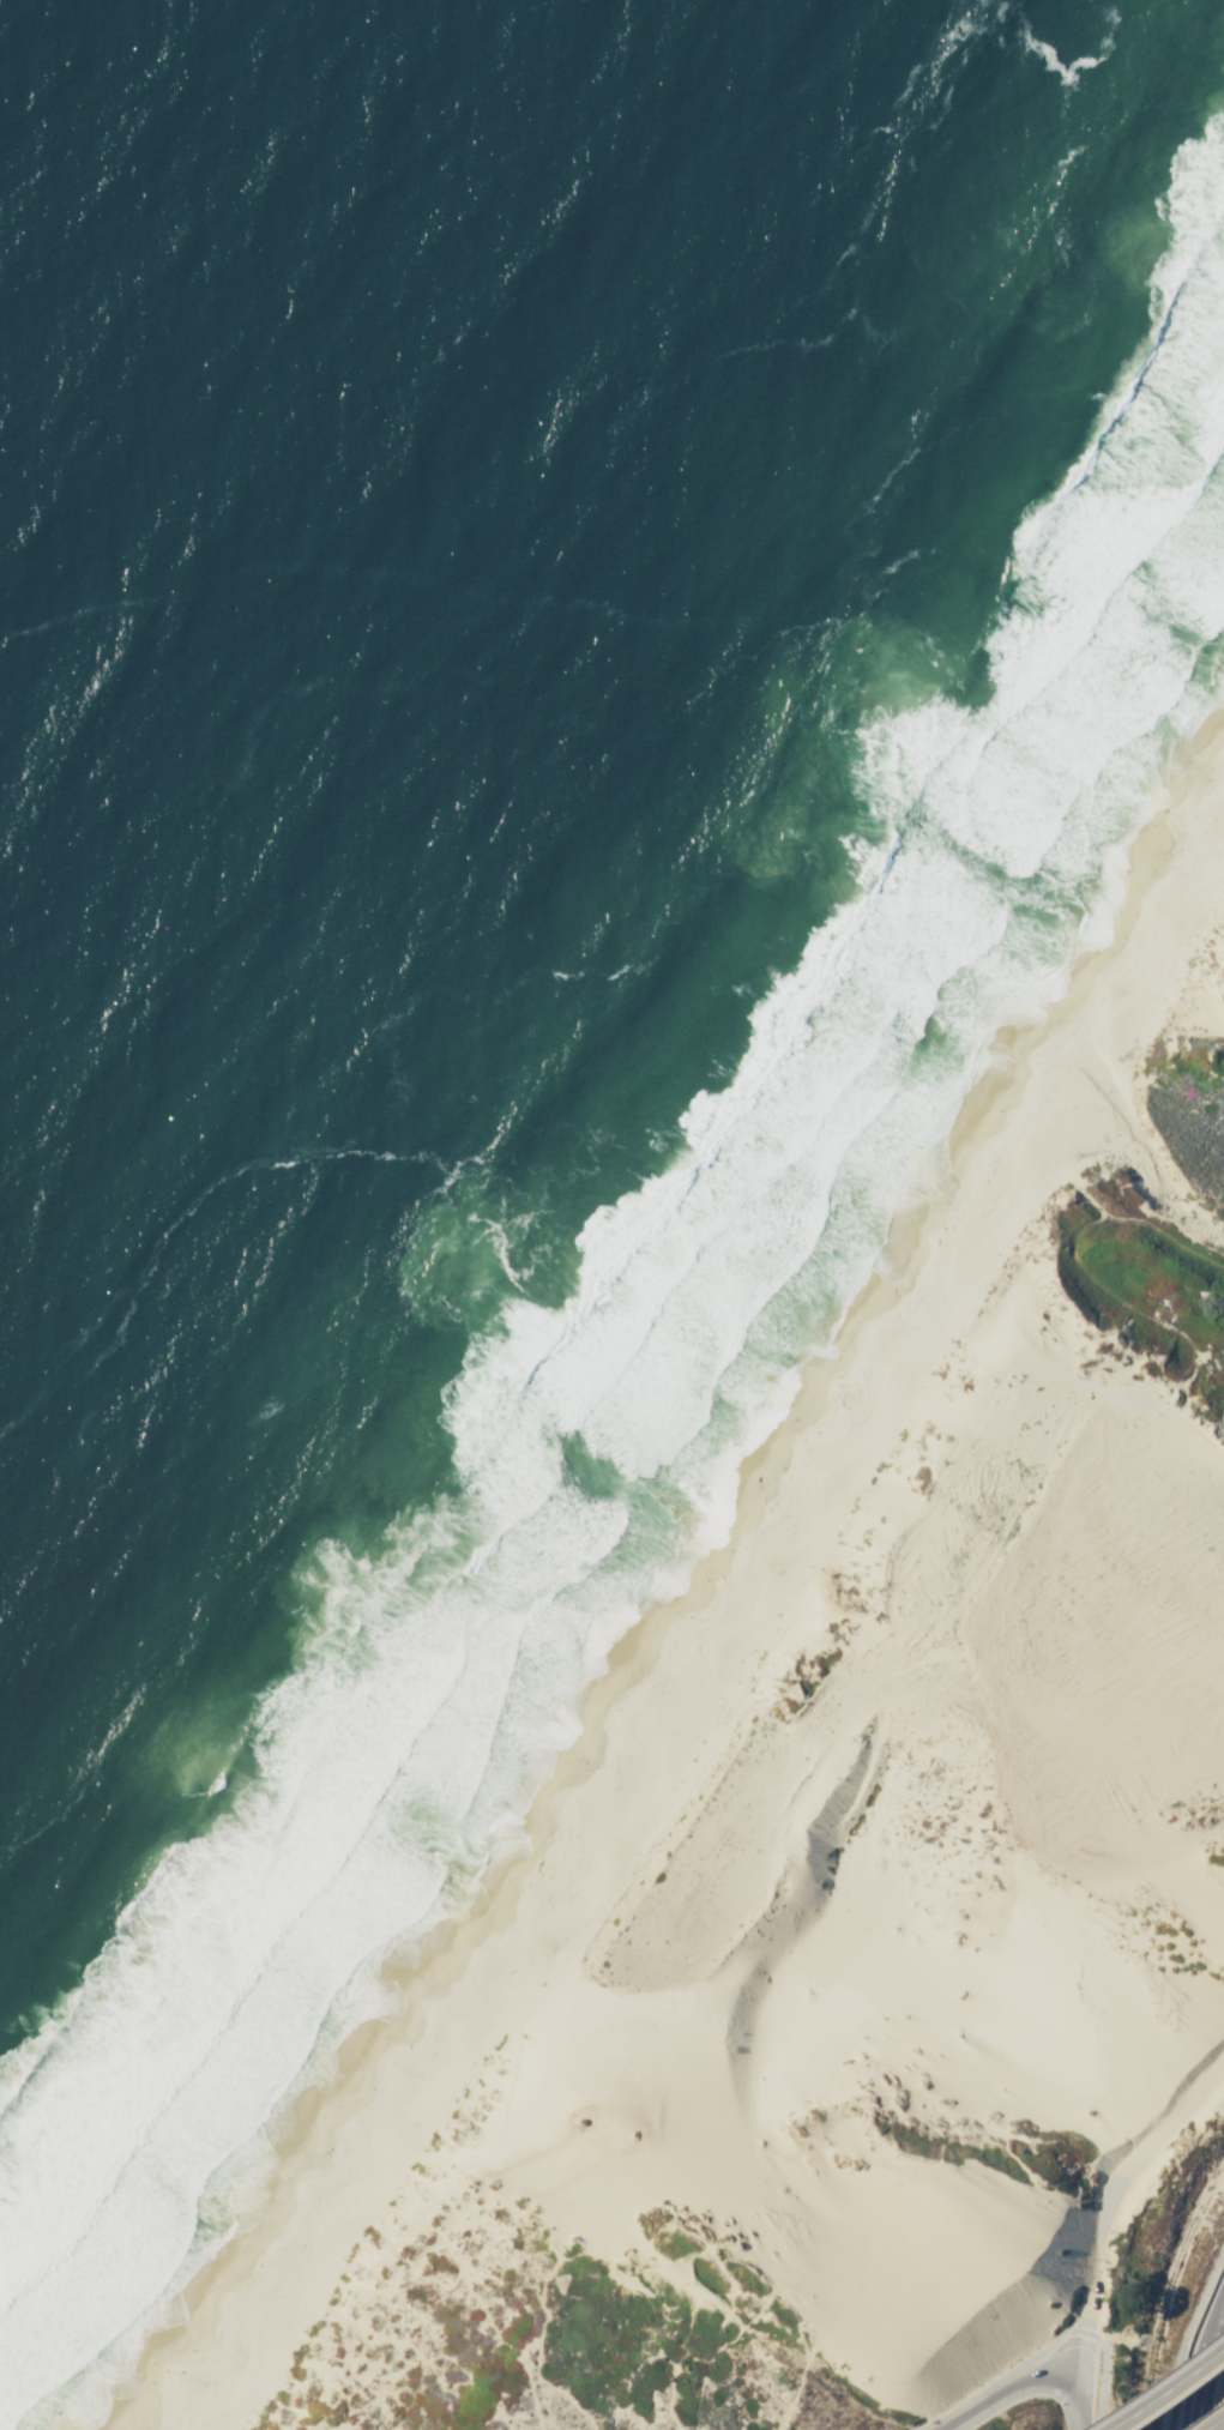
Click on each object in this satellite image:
road: (1142, 2157)
railway: (1177, 2251)
road: (1090, 2323)
road: (1192, 2340)
road: (1043, 2347)
road: (1205, 2364)
road: (1012, 2390)
railway: (1144, 2390)
road: (1165, 2392)
road: (1080, 2407)
road: (1214, 2423)

